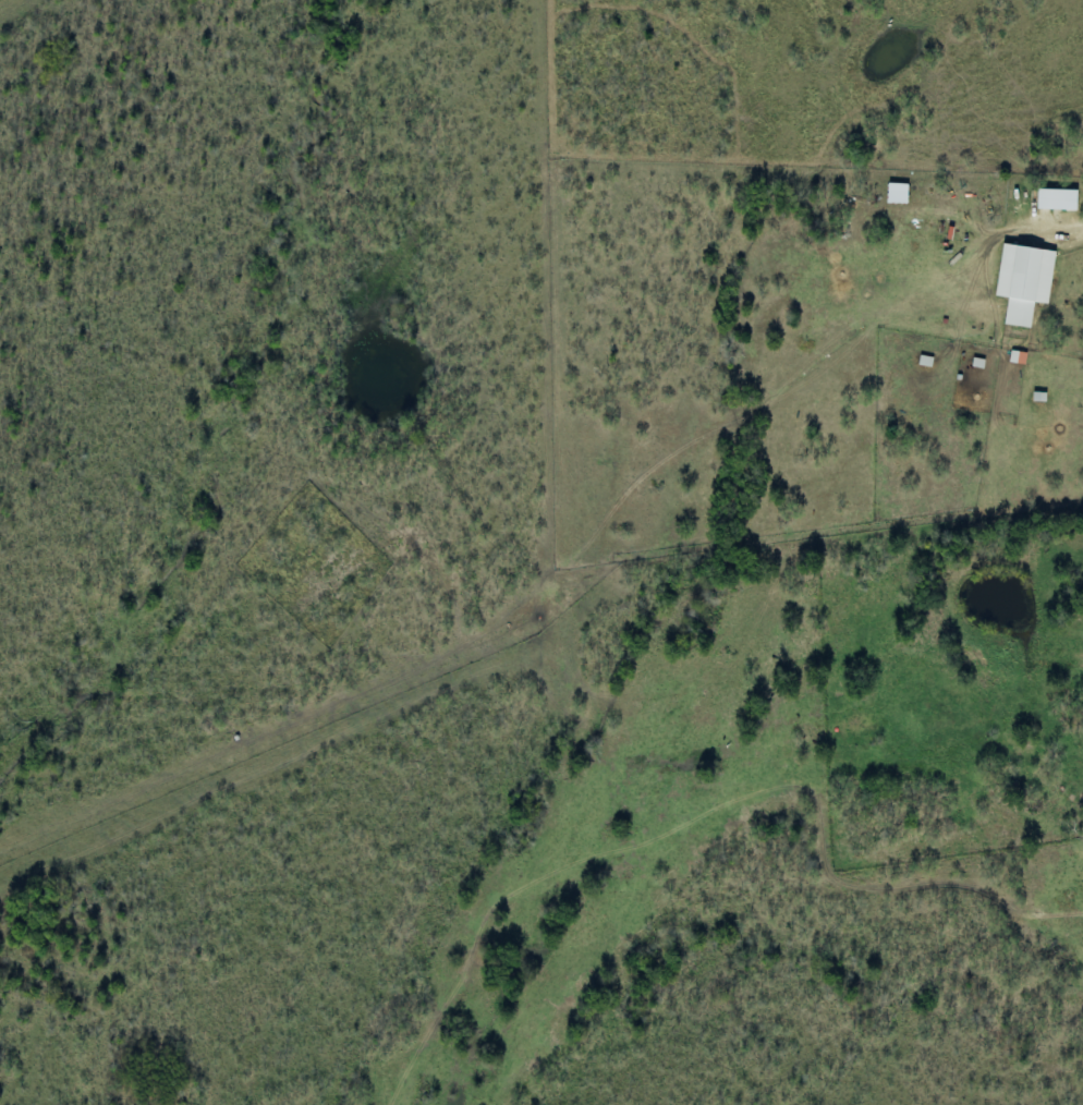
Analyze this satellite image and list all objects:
building: (1059, 199)
building: (1026, 281)
building: (1020, 357)

